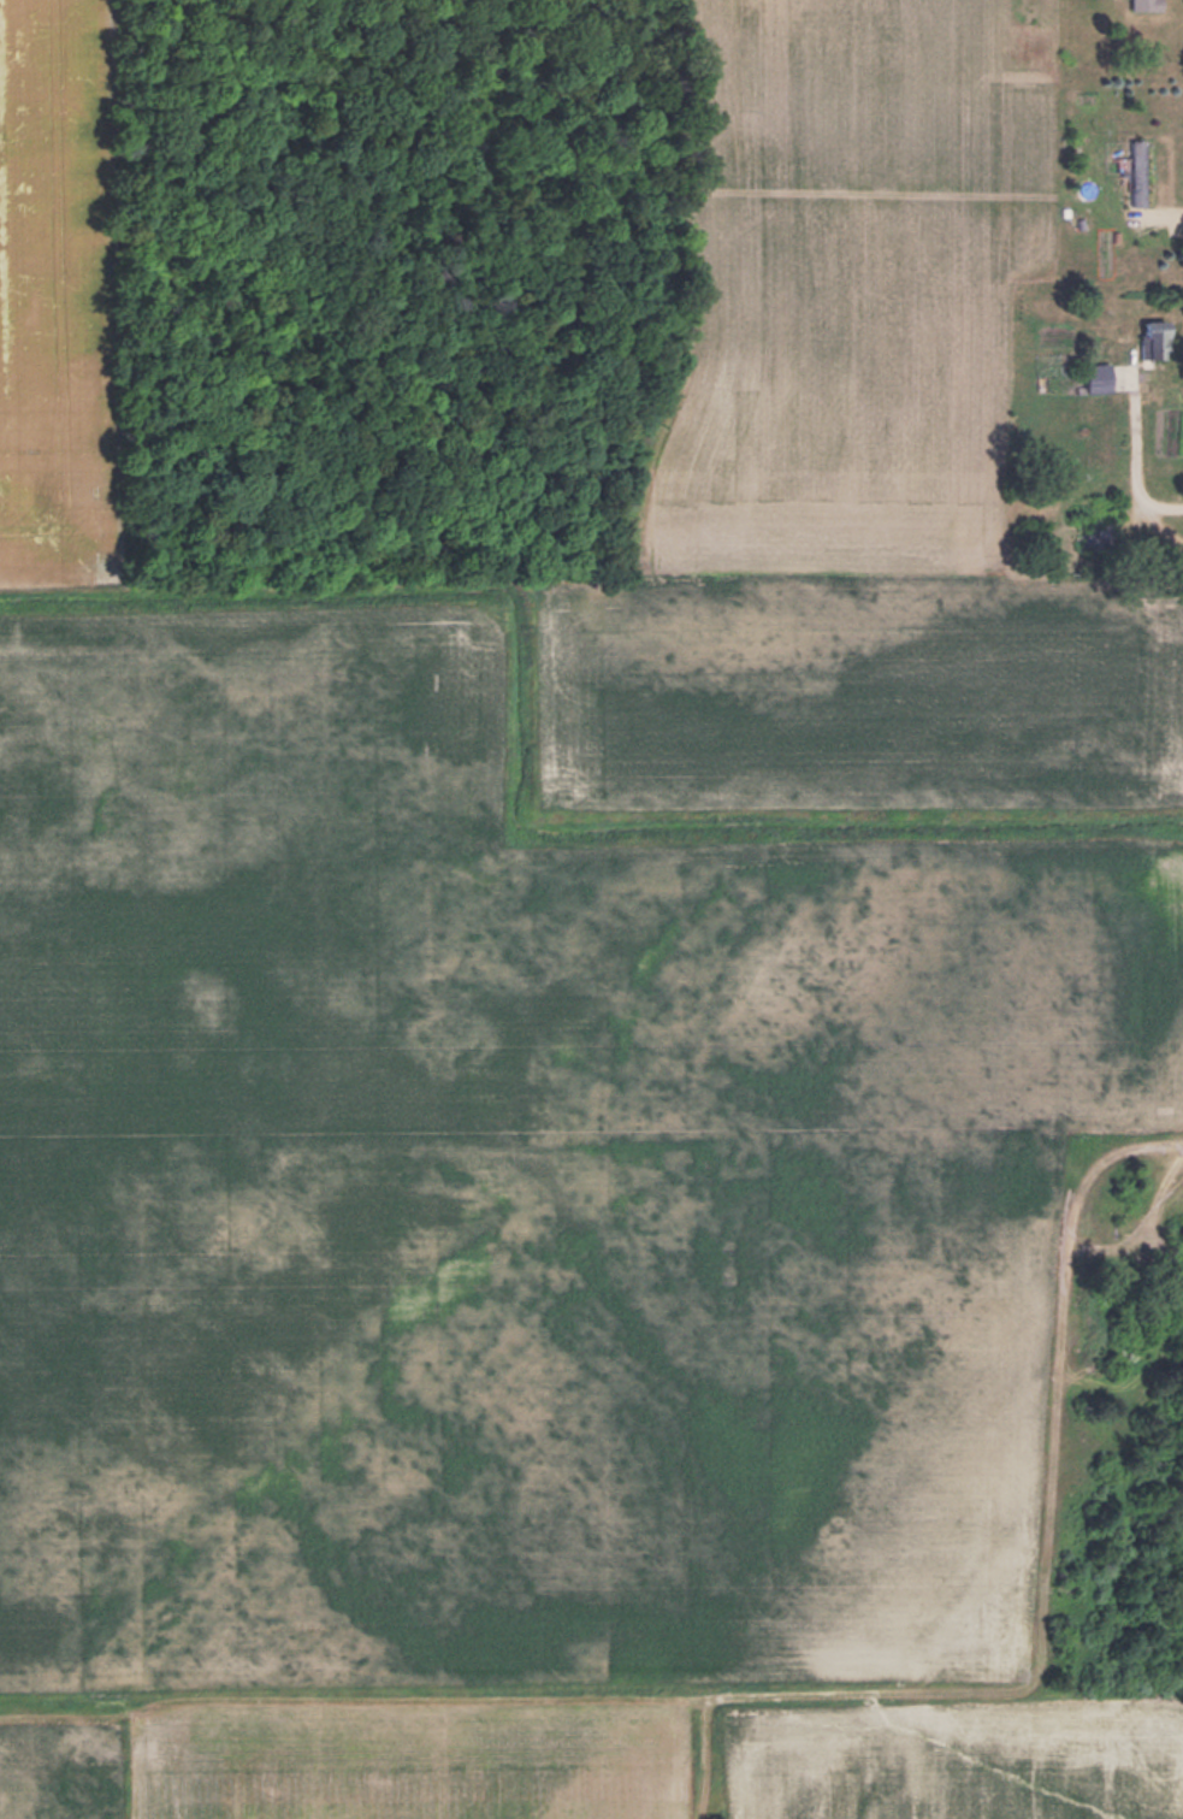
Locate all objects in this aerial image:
building: (1147, 5)
building: (1138, 172)
building: (1101, 377)
building: (1111, 522)

